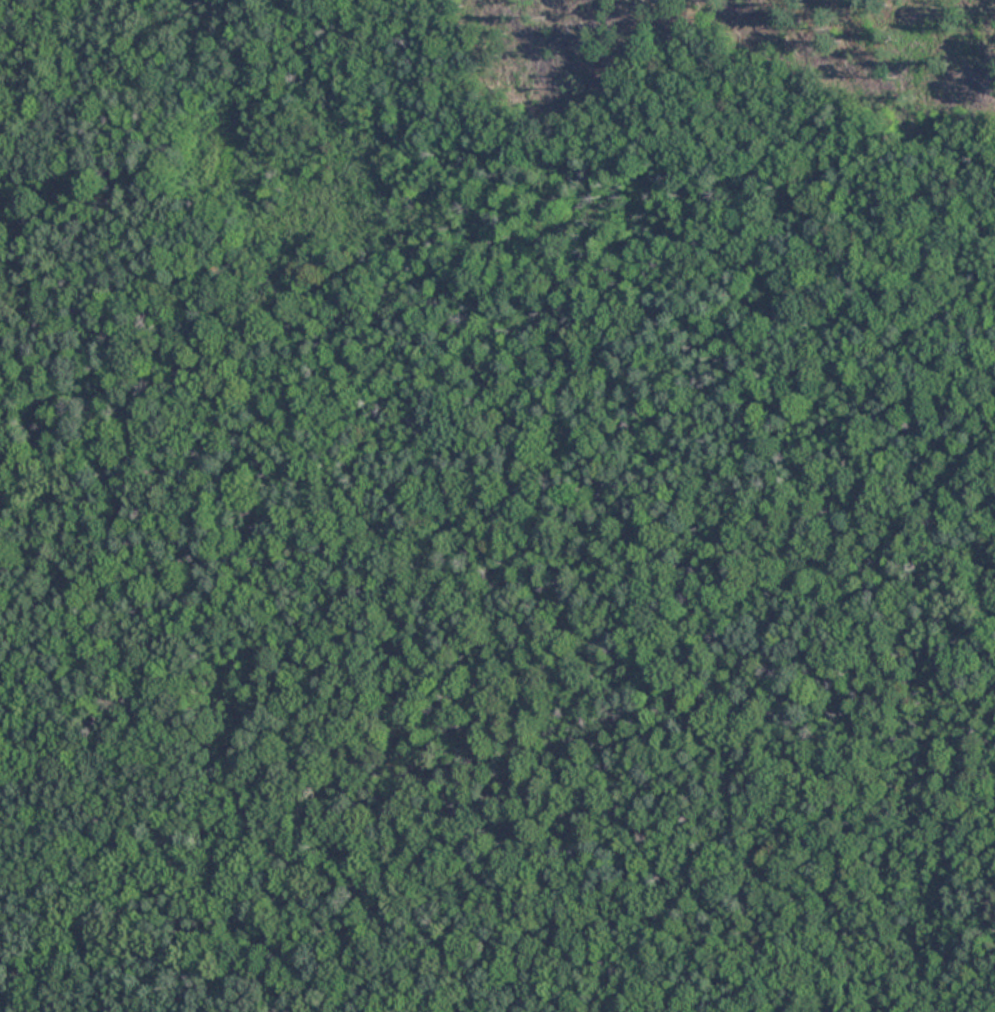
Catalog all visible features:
park: (497, 506)

